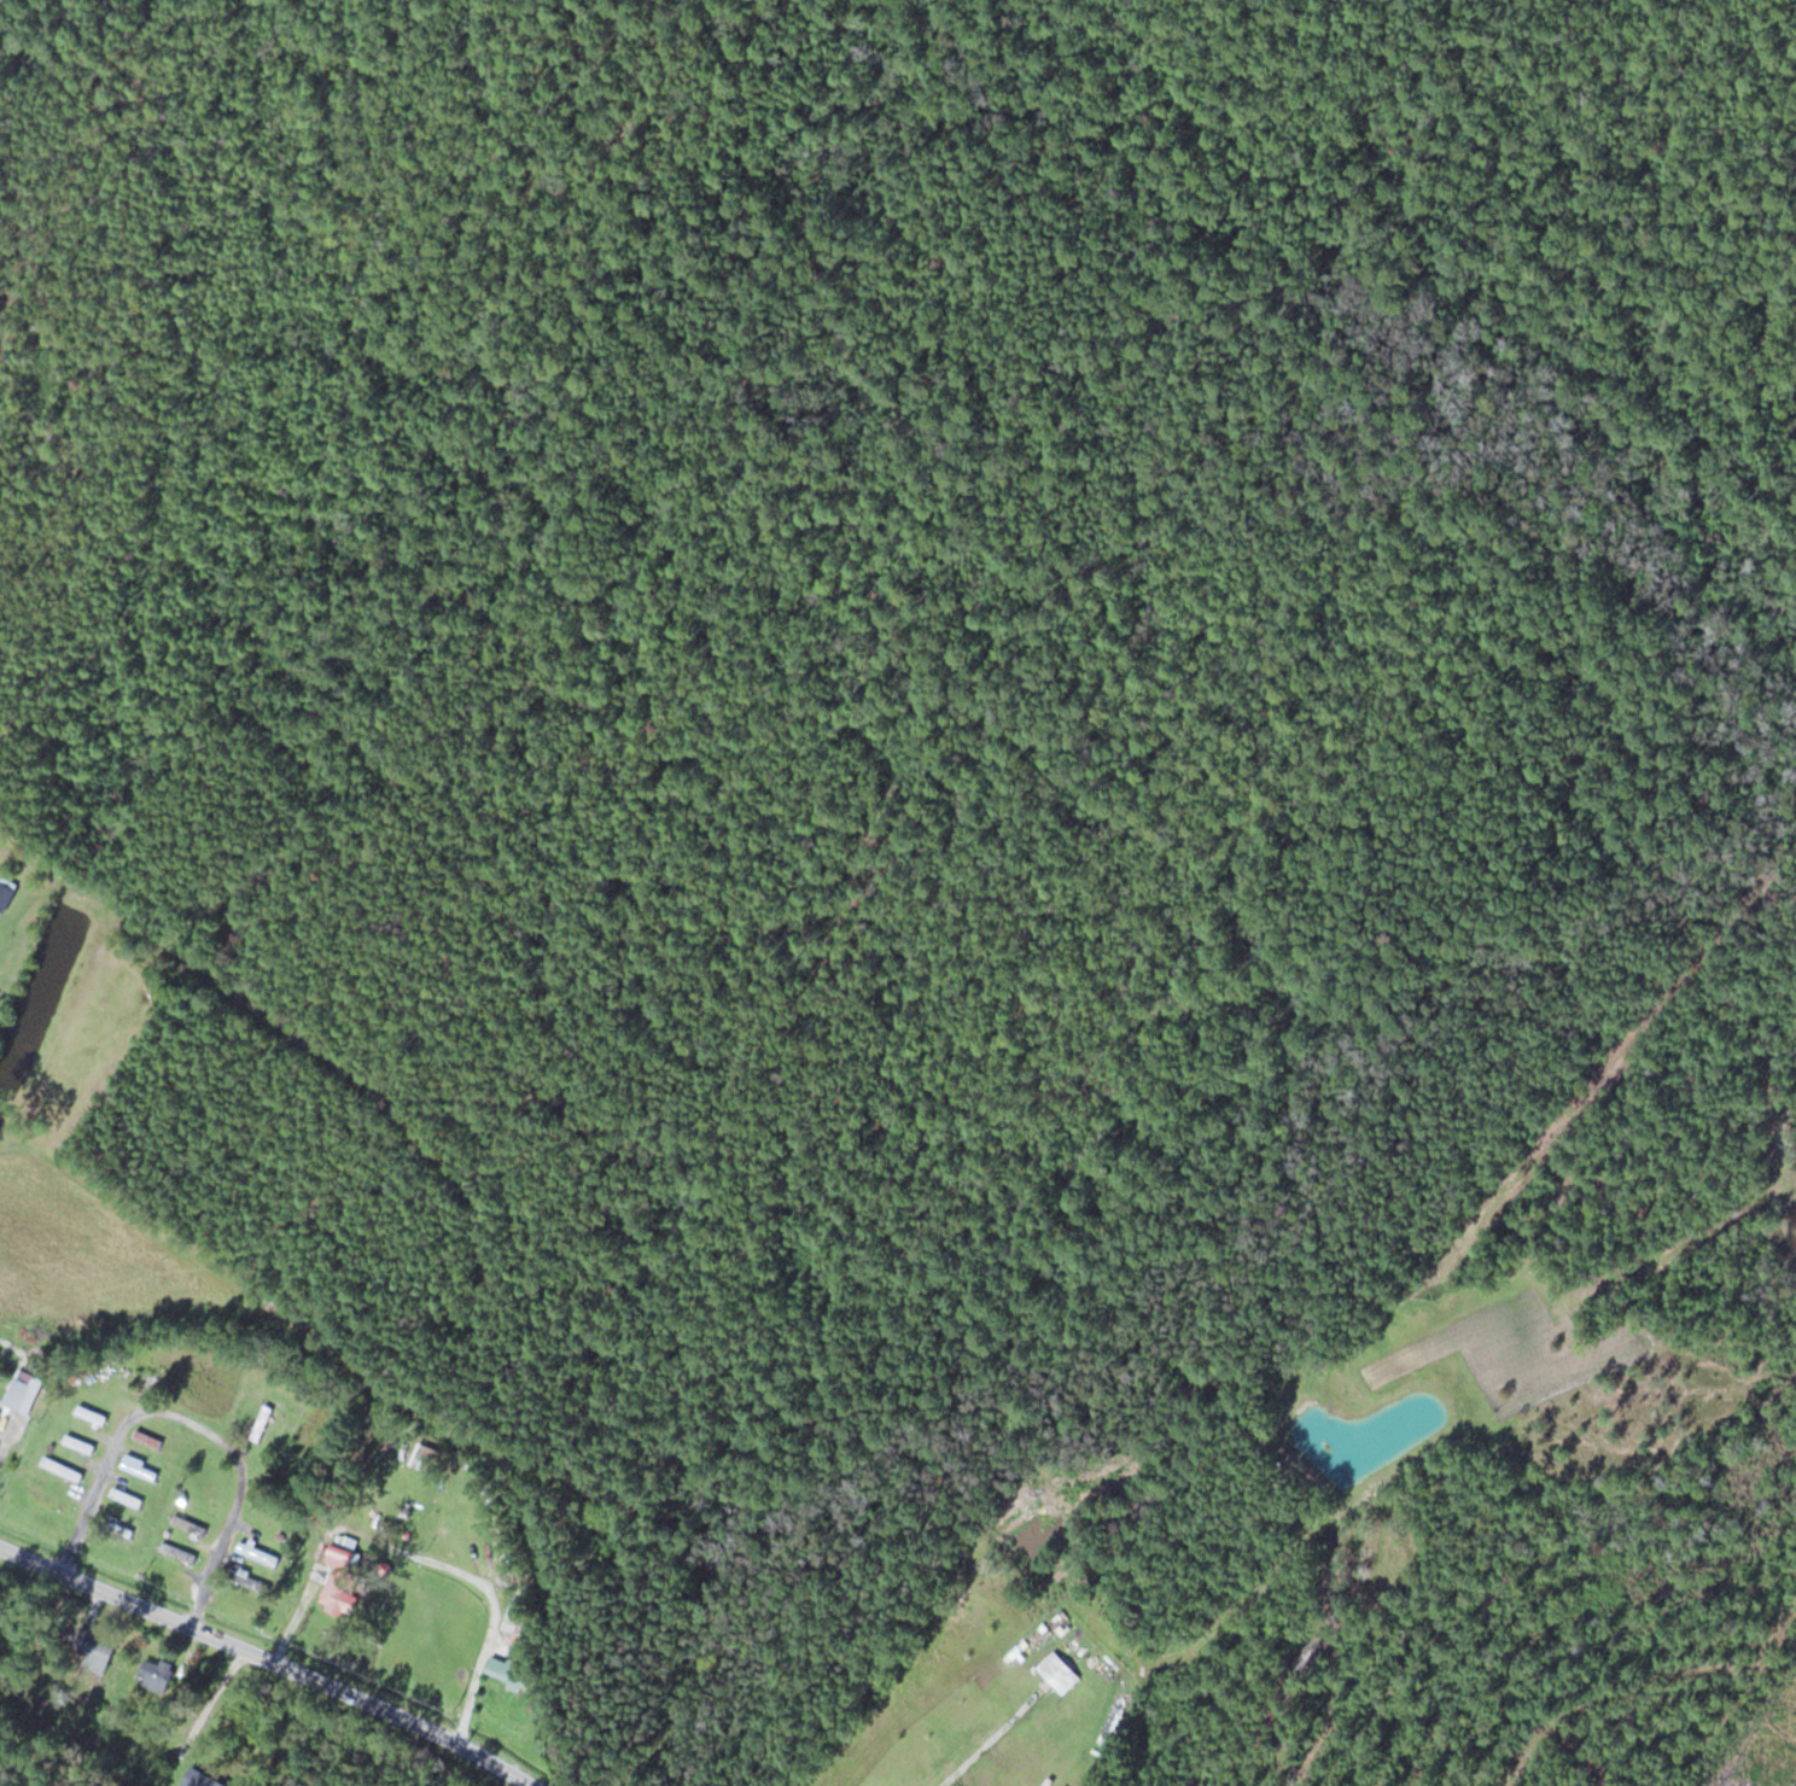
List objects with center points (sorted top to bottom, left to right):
building: (6, 892)
building: (17, 1403)
building: (91, 1414)
building: (261, 1423)
building: (147, 1438)
building: (78, 1444)
building: (425, 1457)
building: (62, 1469)
building: (127, 1498)
building: (48, 1500)
building: (462, 1513)
building: (188, 1525)
building: (177, 1552)
building: (257, 1553)
building: (342, 1553)
building: (340, 1592)
building: (513, 1621)
building: (92, 1648)
road: (270, 1660)
building: (1057, 1671)
building: (508, 1673)
building: (154, 1674)
building: (199, 1779)

